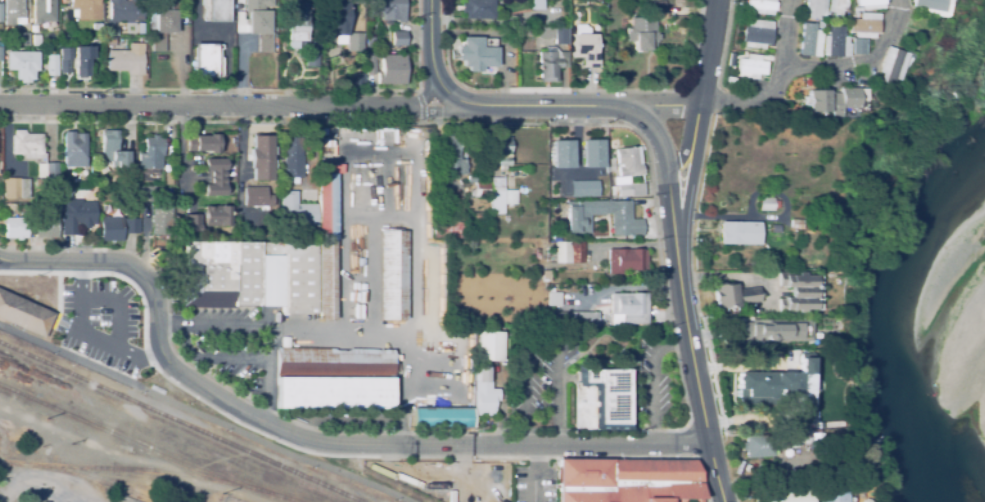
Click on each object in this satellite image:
building: (867, 4)
building: (536, 5)
building: (929, 5)
building: (760, 6)
building: (604, 7)
building: (834, 7)
building: (812, 8)
building: (87, 9)
building: (391, 9)
building: (478, 9)
building: (658, 9)
building: (42, 10)
building: (124, 10)
building: (216, 10)
building: (12, 11)
building: (1, 12)
building: (853, 15)
building: (336, 20)
building: (163, 22)
building: (259, 24)
building: (296, 24)
building: (818, 24)
building: (862, 25)
building: (96, 26)
building: (823, 30)
building: (112, 32)
building: (641, 33)
building: (755, 33)
building: (554, 34)
building: (399, 38)
building: (23, 39)
road: (786, 39)
building: (36, 40)
building: (808, 40)
building: (352, 41)
building: (110, 42)
building: (833, 42)
building: (370, 43)
building: (585, 46)
building: (856, 46)
building: (0, 47)
building: (274, 49)
road: (430, 50)
road: (707, 52)
building: (311, 53)
building: (478, 53)
building: (741, 53)
building: (64, 59)
building: (206, 60)
building: (125, 61)
building: (21, 63)
building: (370, 63)
building: (551, 63)
building: (82, 64)
building: (891, 64)
building: (51, 65)
building: (751, 66)
building: (392, 69)
road: (860, 72)
building: (740, 76)
building: (357, 80)
building: (828, 100)
road: (352, 104)
road: (746, 104)
road: (697, 124)
building: (335, 131)
building: (203, 143)
building: (27, 144)
building: (73, 150)
building: (114, 150)
building: (503, 151)
building: (593, 153)
building: (563, 154)
building: (150, 155)
building: (293, 157)
building: (453, 157)
building: (260, 158)
building: (612, 164)
road: (667, 166)
building: (337, 168)
building: (40, 170)
building: (50, 172)
building: (628, 172)
building: (214, 177)
building: (168, 178)
road: (690, 184)
building: (38, 185)
building: (479, 187)
building: (15, 188)
building: (585, 189)
building: (147, 193)
building: (500, 196)
building: (257, 197)
building: (48, 198)
building: (51, 204)
building: (764, 204)
building: (455, 205)
building: (34, 207)
building: (297, 211)
building: (217, 216)
building: (76, 217)
building: (578, 217)
building: (161, 219)
building: (191, 223)
building: (793, 224)
building: (131, 225)
building: (256, 226)
building: (46, 227)
building: (16, 228)
building: (773, 228)
building: (111, 229)
building: (448, 229)
building: (739, 233)
building: (556, 236)
building: (327, 245)
building: (569, 252)
road: (4, 260)
building: (626, 260)
building: (360, 262)
building: (251, 275)
building: (394, 275)
building: (546, 276)
road: (413, 284)
building: (795, 292)
building: (732, 295)
building: (554, 299)
road: (118, 305)
building: (630, 307)
building: (24, 315)
building: (572, 318)
road: (262, 324)
building: (774, 331)
road: (88, 334)
road: (542, 338)
railway: (4, 342)
building: (488, 346)
road: (688, 351)
river: (906, 353)
railway: (66, 357)
building: (483, 374)
road: (649, 377)
building: (335, 378)
building: (776, 388)
road: (403, 391)
building: (485, 399)
building: (604, 400)
road: (202, 412)
building: (443, 418)
railway: (185, 423)
building: (799, 441)
road: (310, 442)
building: (759, 446)
railway: (146, 448)
railway: (133, 470)
road: (717, 472)
road: (536, 473)
building: (629, 480)
road: (45, 489)
road: (2, 491)
road: (3, 494)
building: (834, 494)
building: (784, 495)

